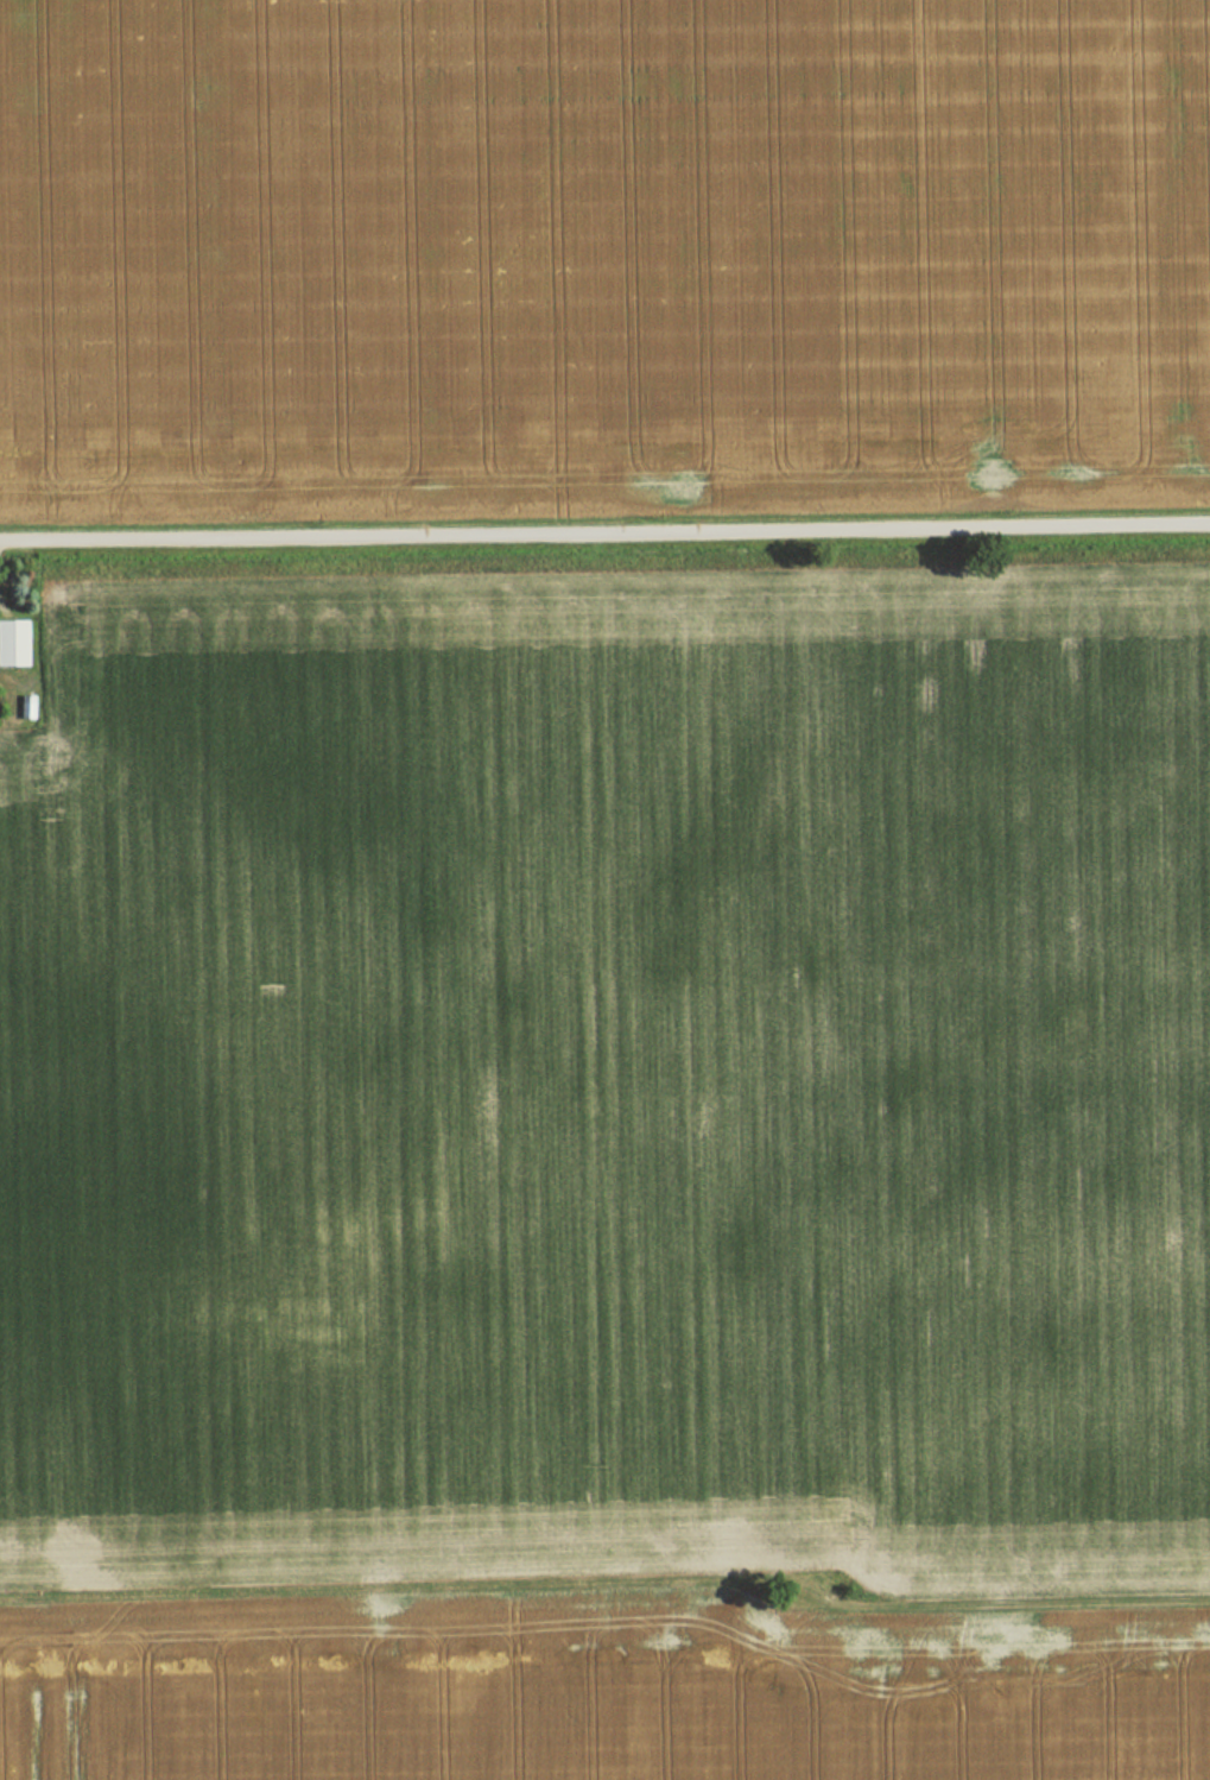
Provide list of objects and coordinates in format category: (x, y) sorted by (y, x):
crop: (601, 250)
road: (604, 530)
crop: (612, 1082)
crop: (583, 1687)

